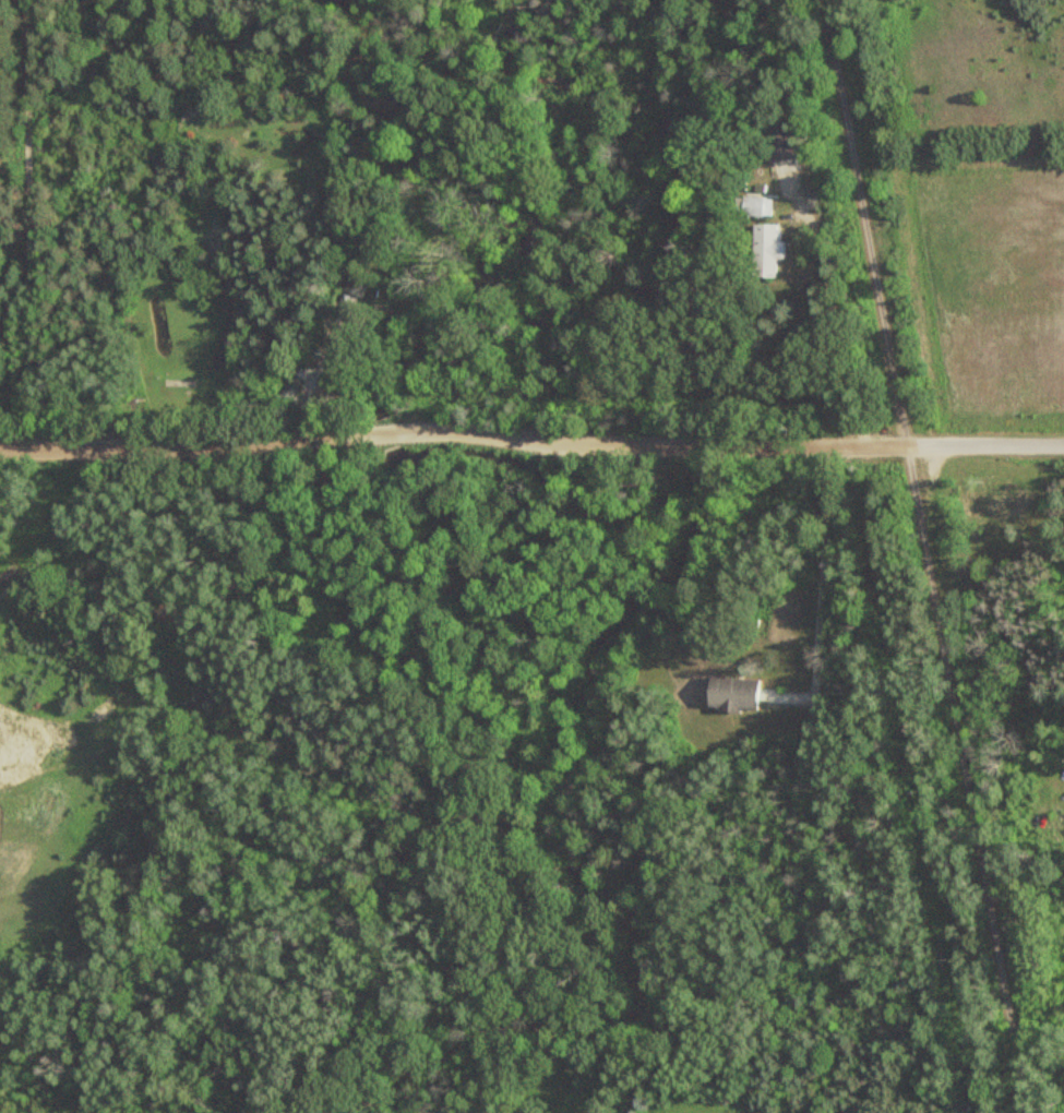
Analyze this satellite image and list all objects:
building: (777, 142)
building: (755, 208)
road: (36, 226)
building: (762, 249)
building: (158, 334)
road: (467, 432)
road: (1000, 445)
building: (999, 523)
road: (926, 555)
road: (820, 572)
building: (729, 695)
road: (703, 1105)

